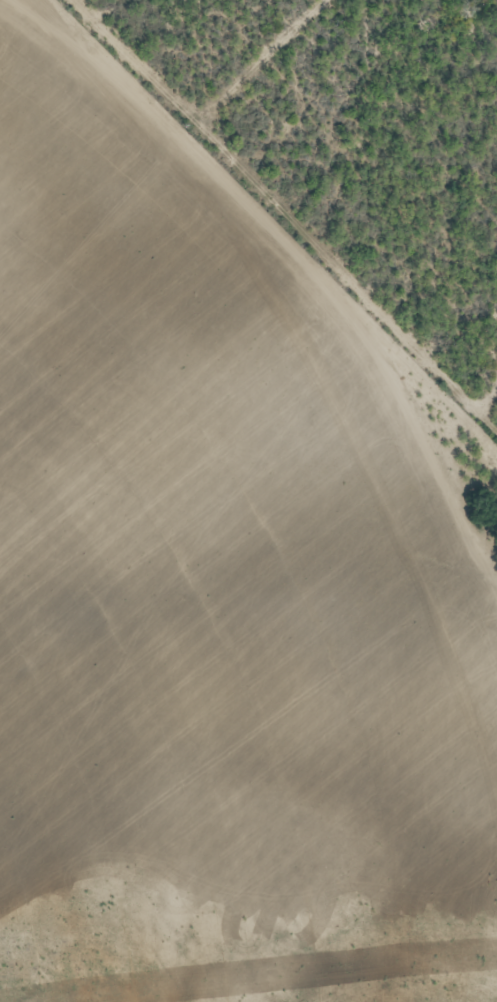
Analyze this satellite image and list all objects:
road: (388, 96)

